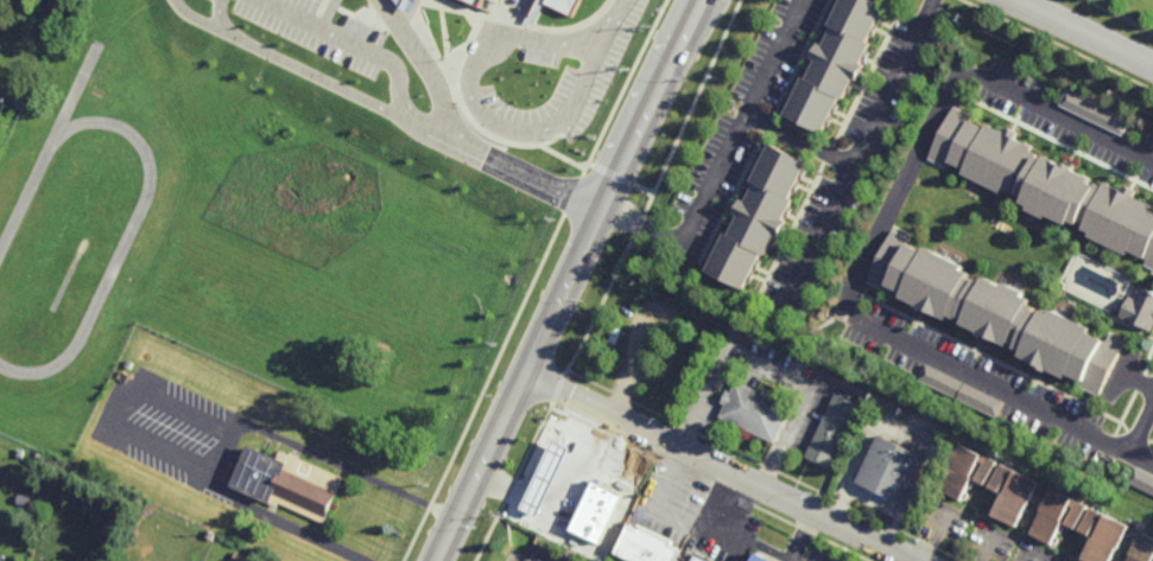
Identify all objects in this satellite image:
building: (479, 1)
building: (565, 5)
road: (615, 20)
road: (397, 24)
road: (1085, 32)
road: (278, 58)
building: (835, 63)
road: (436, 89)
building: (1, 106)
road: (476, 108)
building: (5, 109)
building: (1092, 111)
road: (414, 123)
road: (863, 136)
road: (722, 161)
road: (520, 172)
building: (1045, 184)
track: (141, 205)
building: (760, 216)
road: (875, 235)
road: (815, 238)
road: (568, 279)
building: (1139, 306)
building: (996, 311)
building: (646, 332)
road: (771, 366)
road: (1136, 382)
road: (139, 388)
building: (959, 388)
building: (755, 408)
road: (1140, 426)
building: (832, 428)
road: (570, 432)
building: (19, 452)
road: (1140, 458)
building: (545, 467)
road: (721, 467)
building: (888, 467)
road: (547, 468)
building: (964, 470)
building: (1140, 478)
building: (286, 480)
building: (1011, 491)
road: (514, 495)
road: (707, 497)
building: (578, 498)
building: (23, 499)
road: (740, 512)
building: (1054, 514)
building: (1101, 534)
building: (596, 535)
road: (717, 538)
building: (645, 546)
building: (1141, 548)
building: (139, 552)
building: (240, 556)
building: (2, 557)
building: (699, 557)
building: (760, 557)

